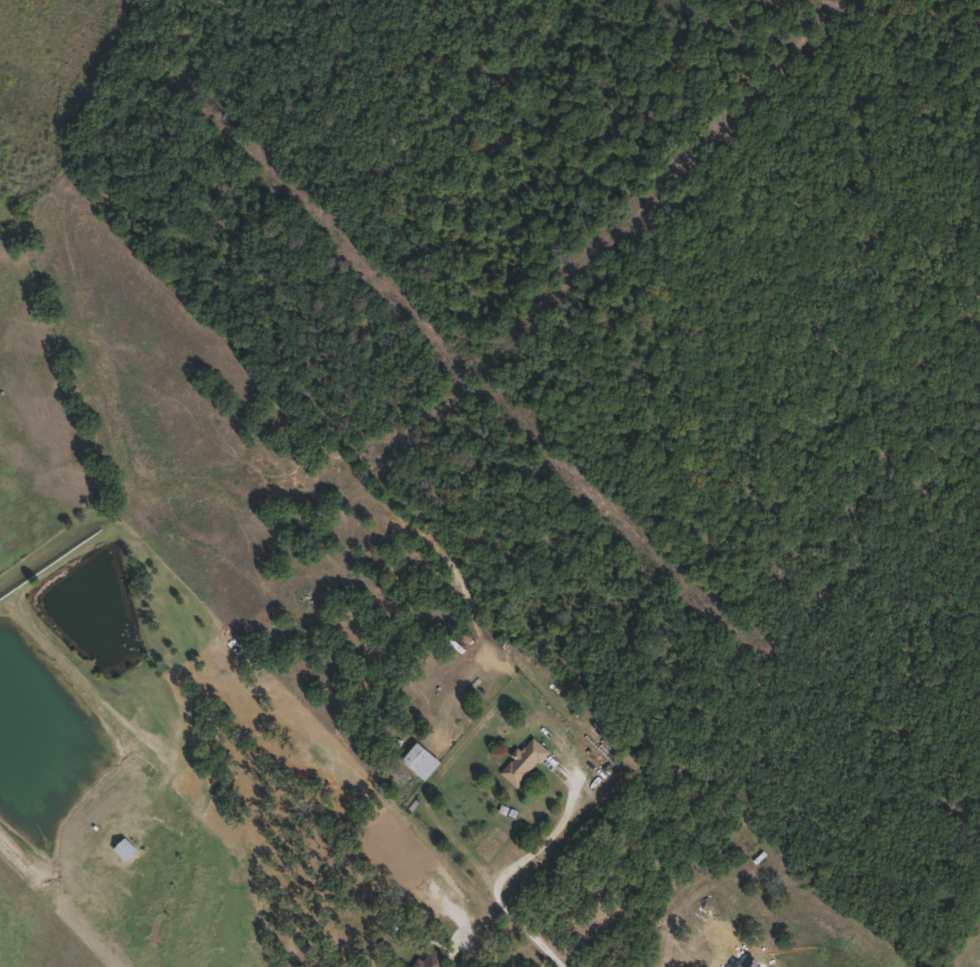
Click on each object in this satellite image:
building: (420, 761)
building: (523, 762)
road: (510, 869)
building: (432, 959)

